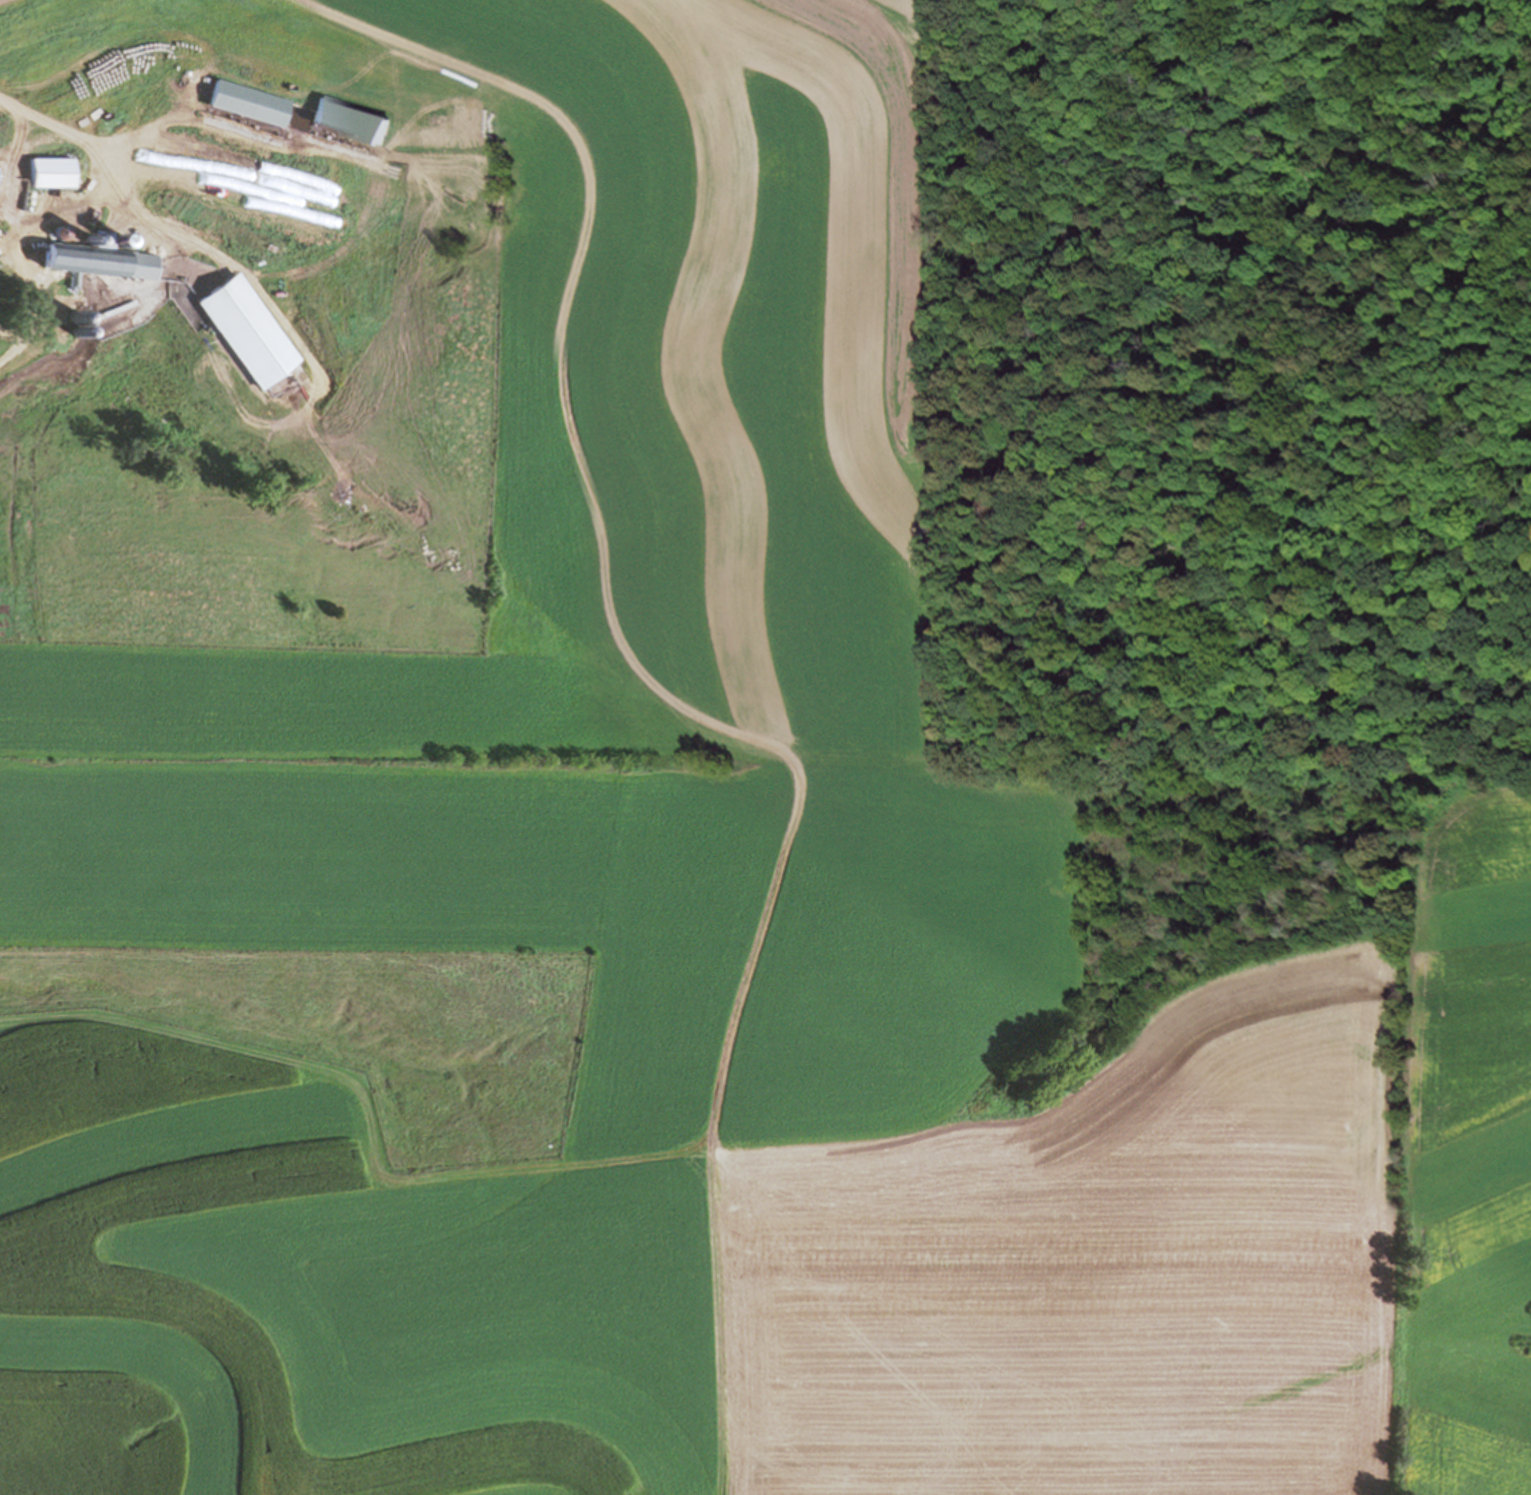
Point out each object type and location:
building: (246, 103)
building: (52, 172)
building: (115, 258)
building: (72, 282)
road: (6, 352)

